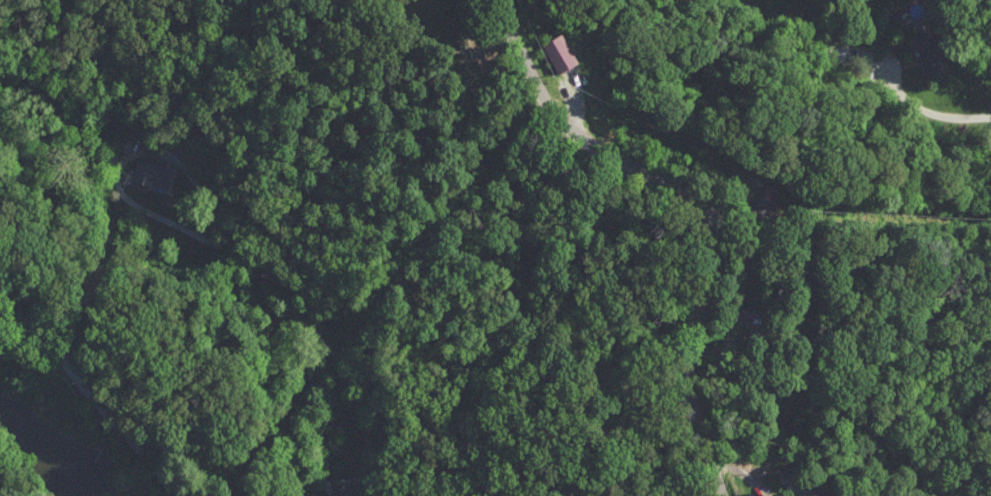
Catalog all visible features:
road: (977, 19)
building: (927, 51)
building: (561, 52)
road: (928, 112)
road: (582, 140)
road: (127, 157)
building: (153, 172)
building: (773, 202)
road: (332, 350)
road: (693, 366)
road: (89, 395)
building: (797, 483)
building: (342, 493)

